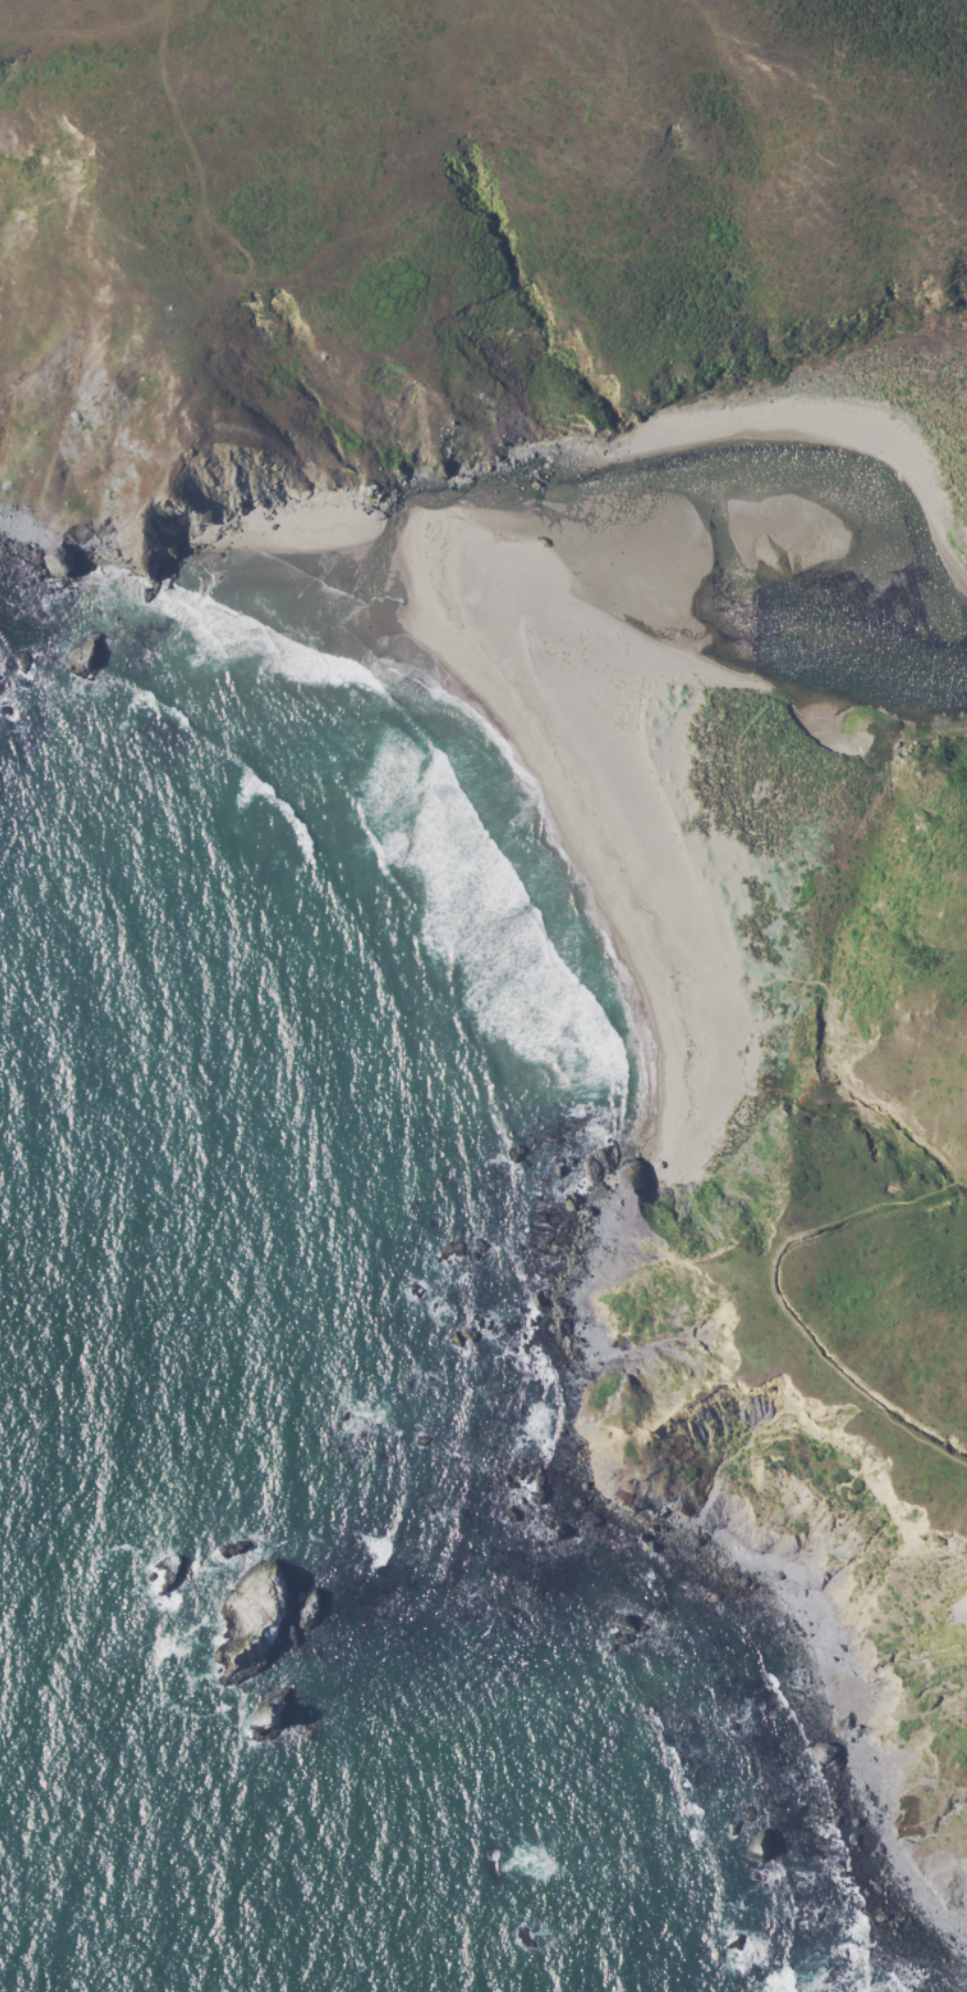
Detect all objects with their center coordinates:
road: (869, 1209)

